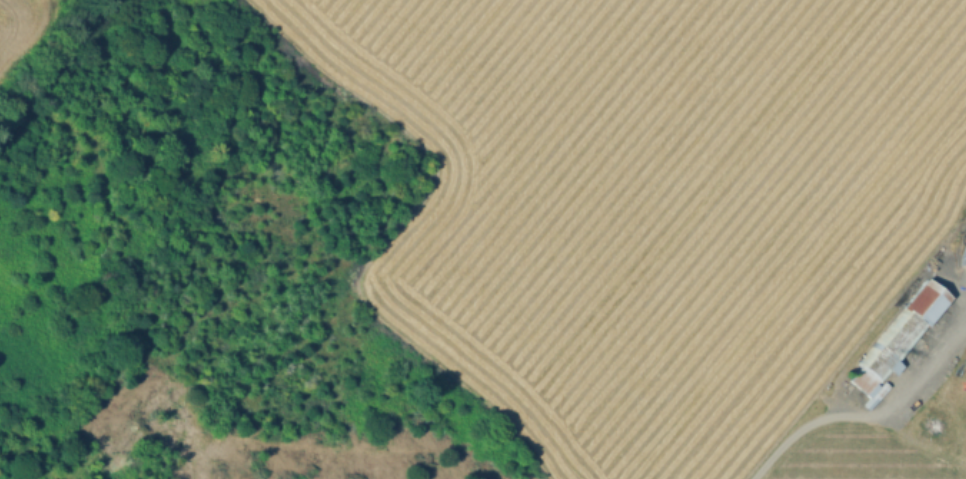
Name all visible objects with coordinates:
crop: (25, 30)
crop: (656, 205)
building: (963, 252)
building: (897, 340)
building: (949, 390)
road: (870, 416)
crop: (862, 457)

